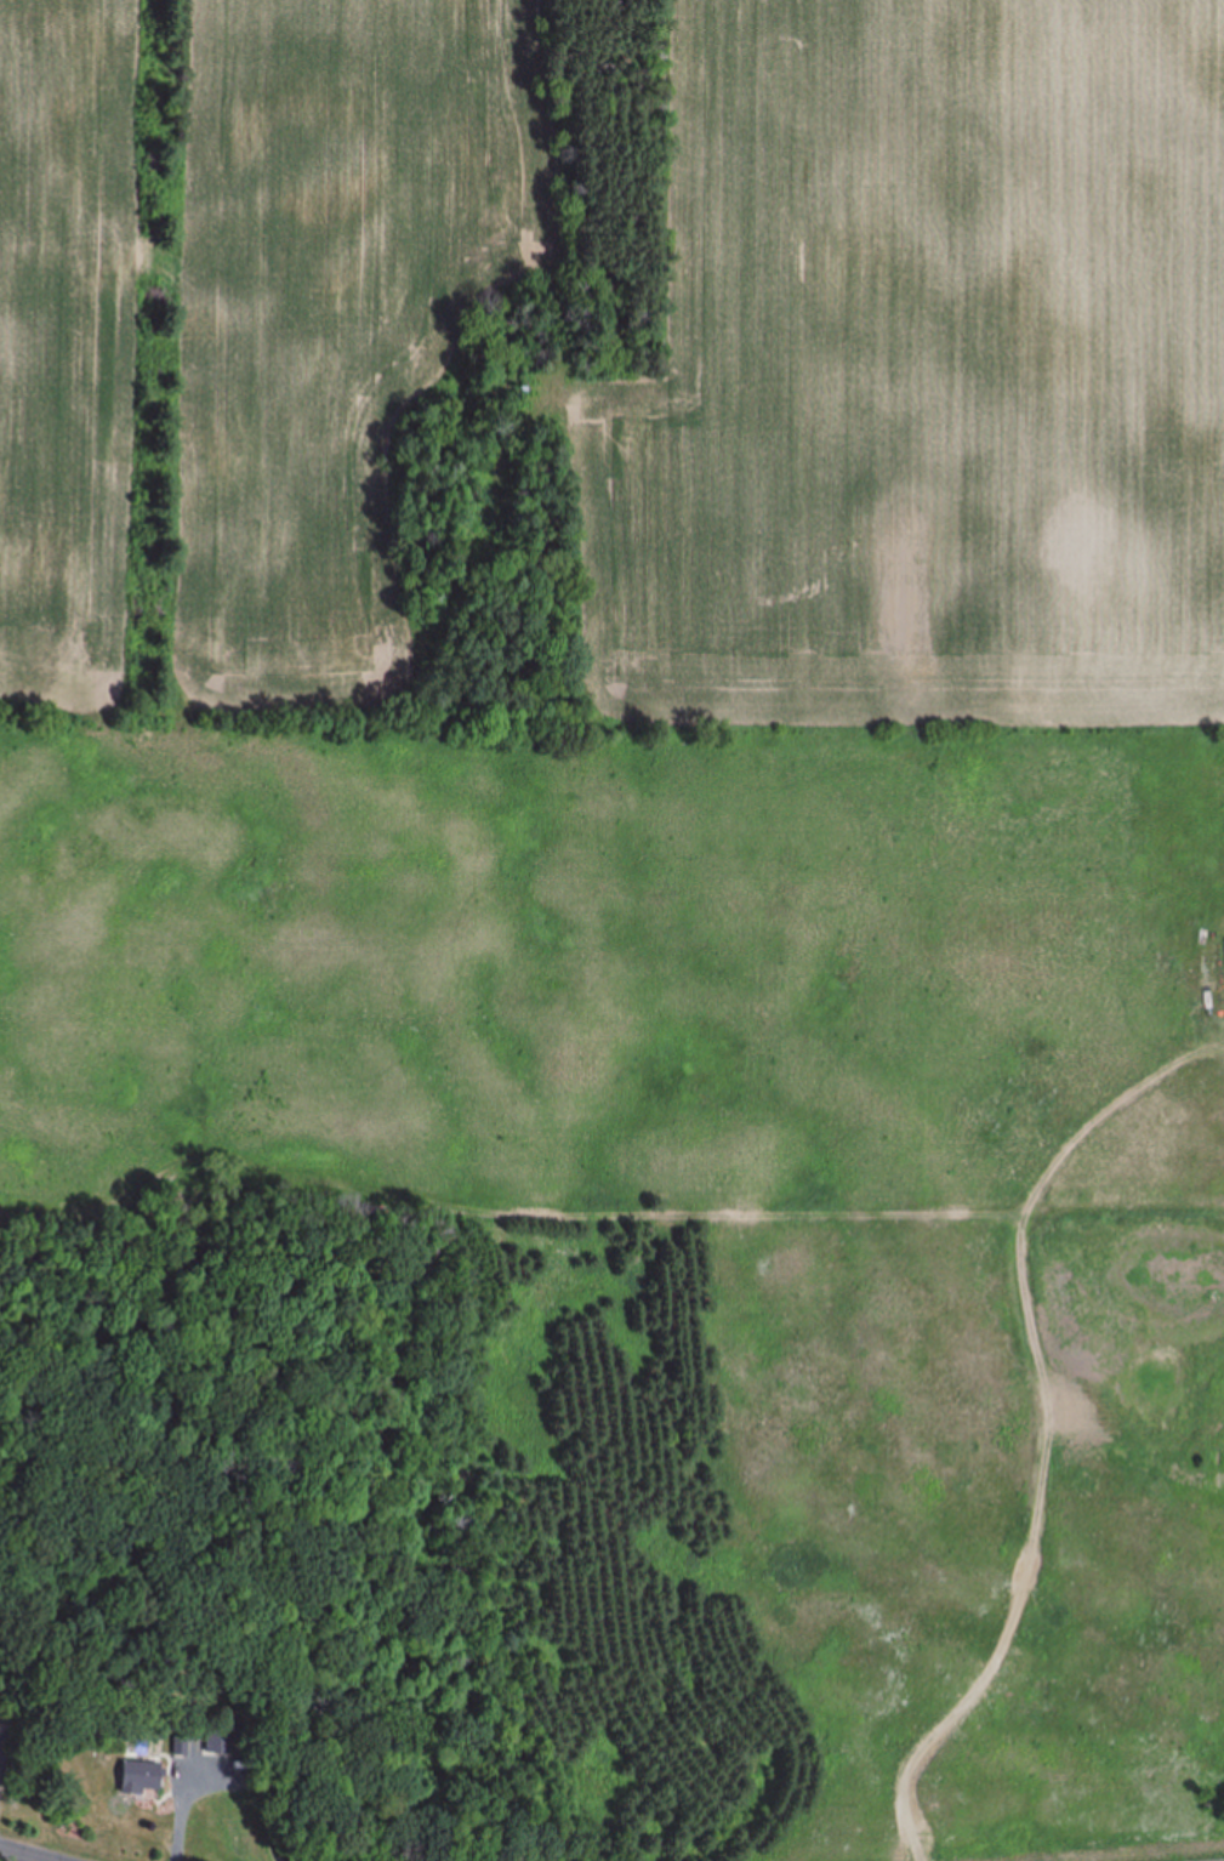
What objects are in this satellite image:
building: (4, 1720)
building: (218, 1738)
building: (136, 1780)
road: (36, 1850)

